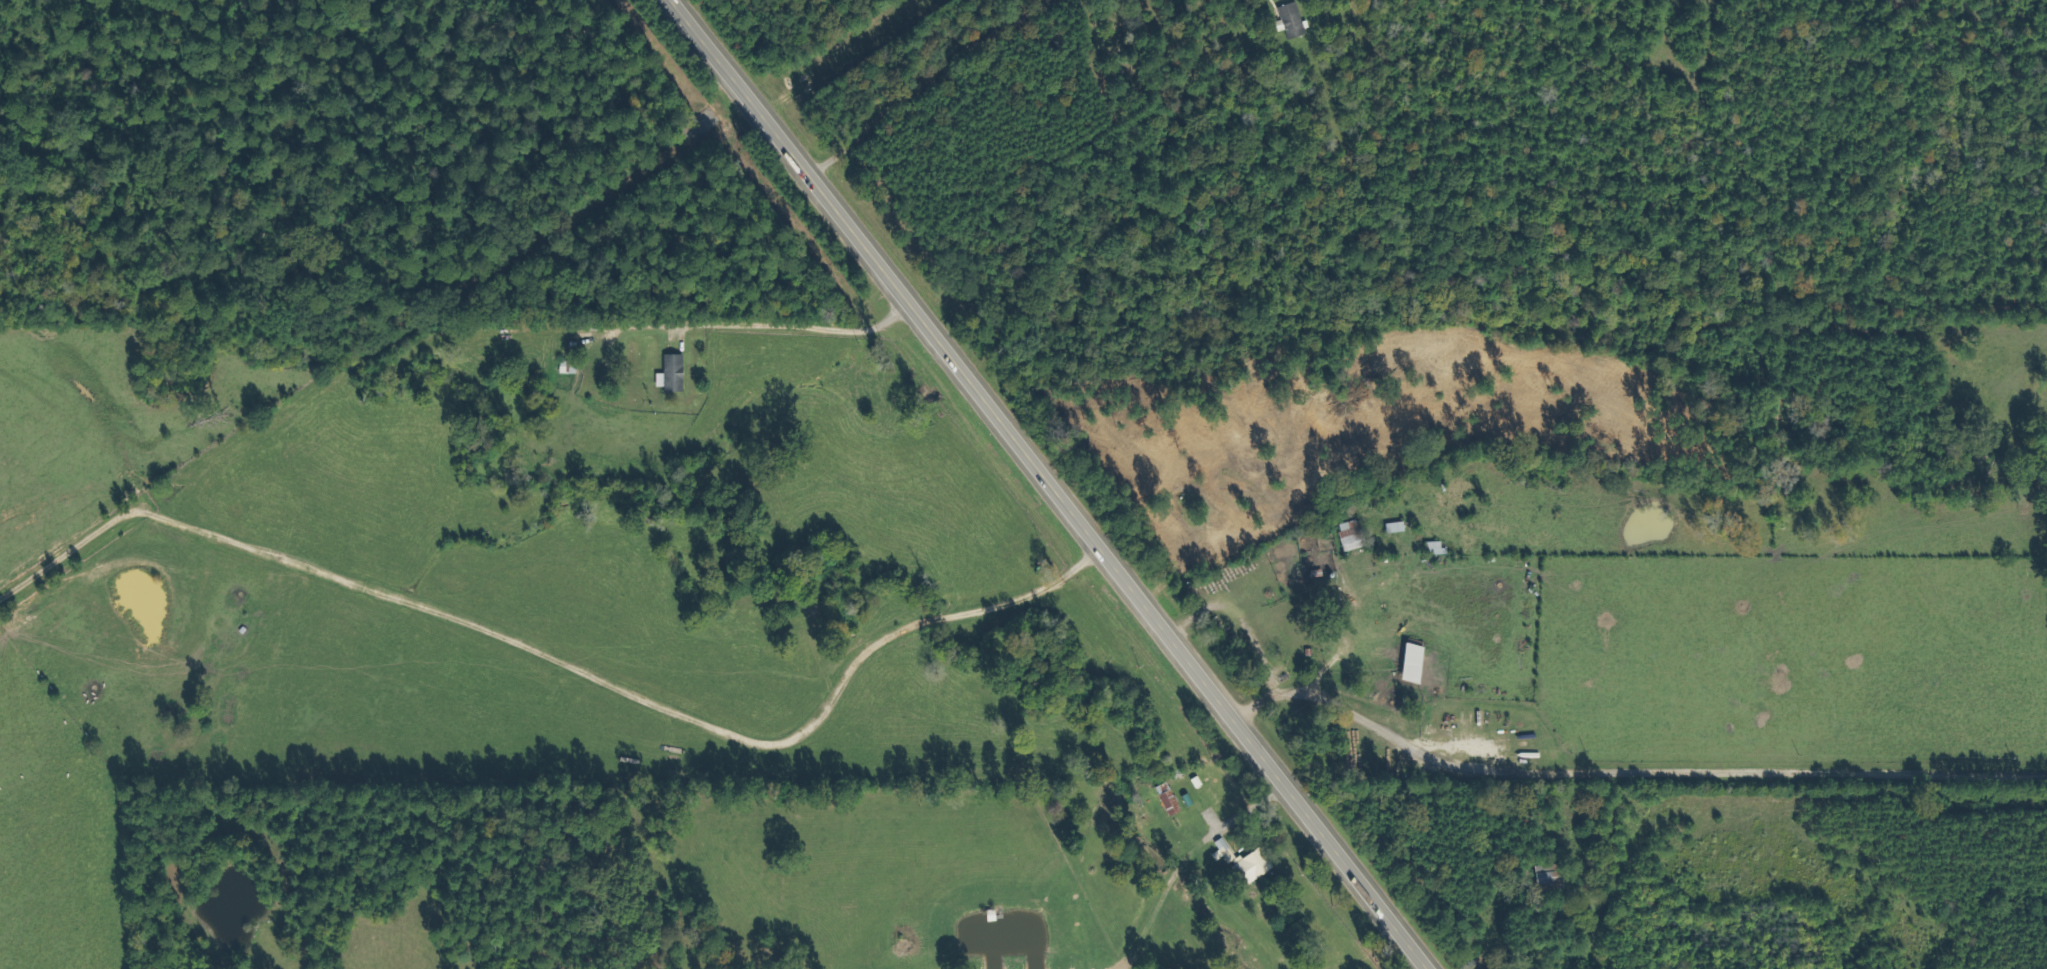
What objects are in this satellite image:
building: (1287, 20)
building: (564, 367)
building: (668, 372)
road: (1052, 484)
building: (1390, 527)
building: (1346, 534)
building: (1431, 547)
building: (1406, 661)
building: (1163, 798)
building: (1239, 861)
building: (1544, 876)

